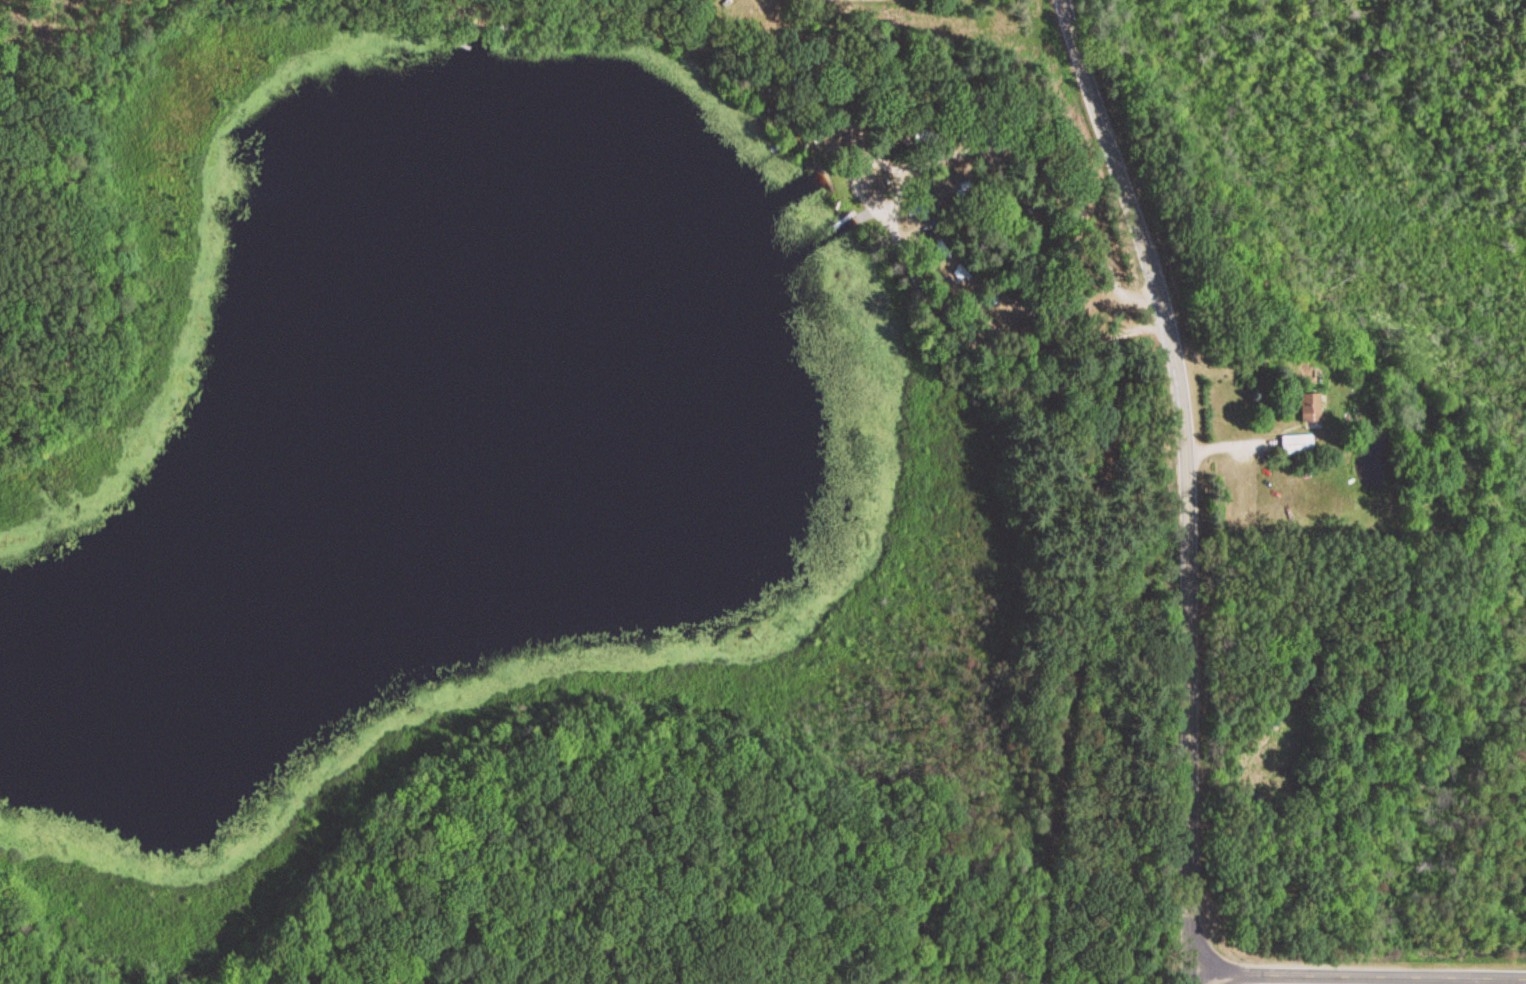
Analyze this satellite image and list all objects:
building: (1306, 410)
building: (1292, 446)
road: (1185, 483)
road: (1360, 976)

